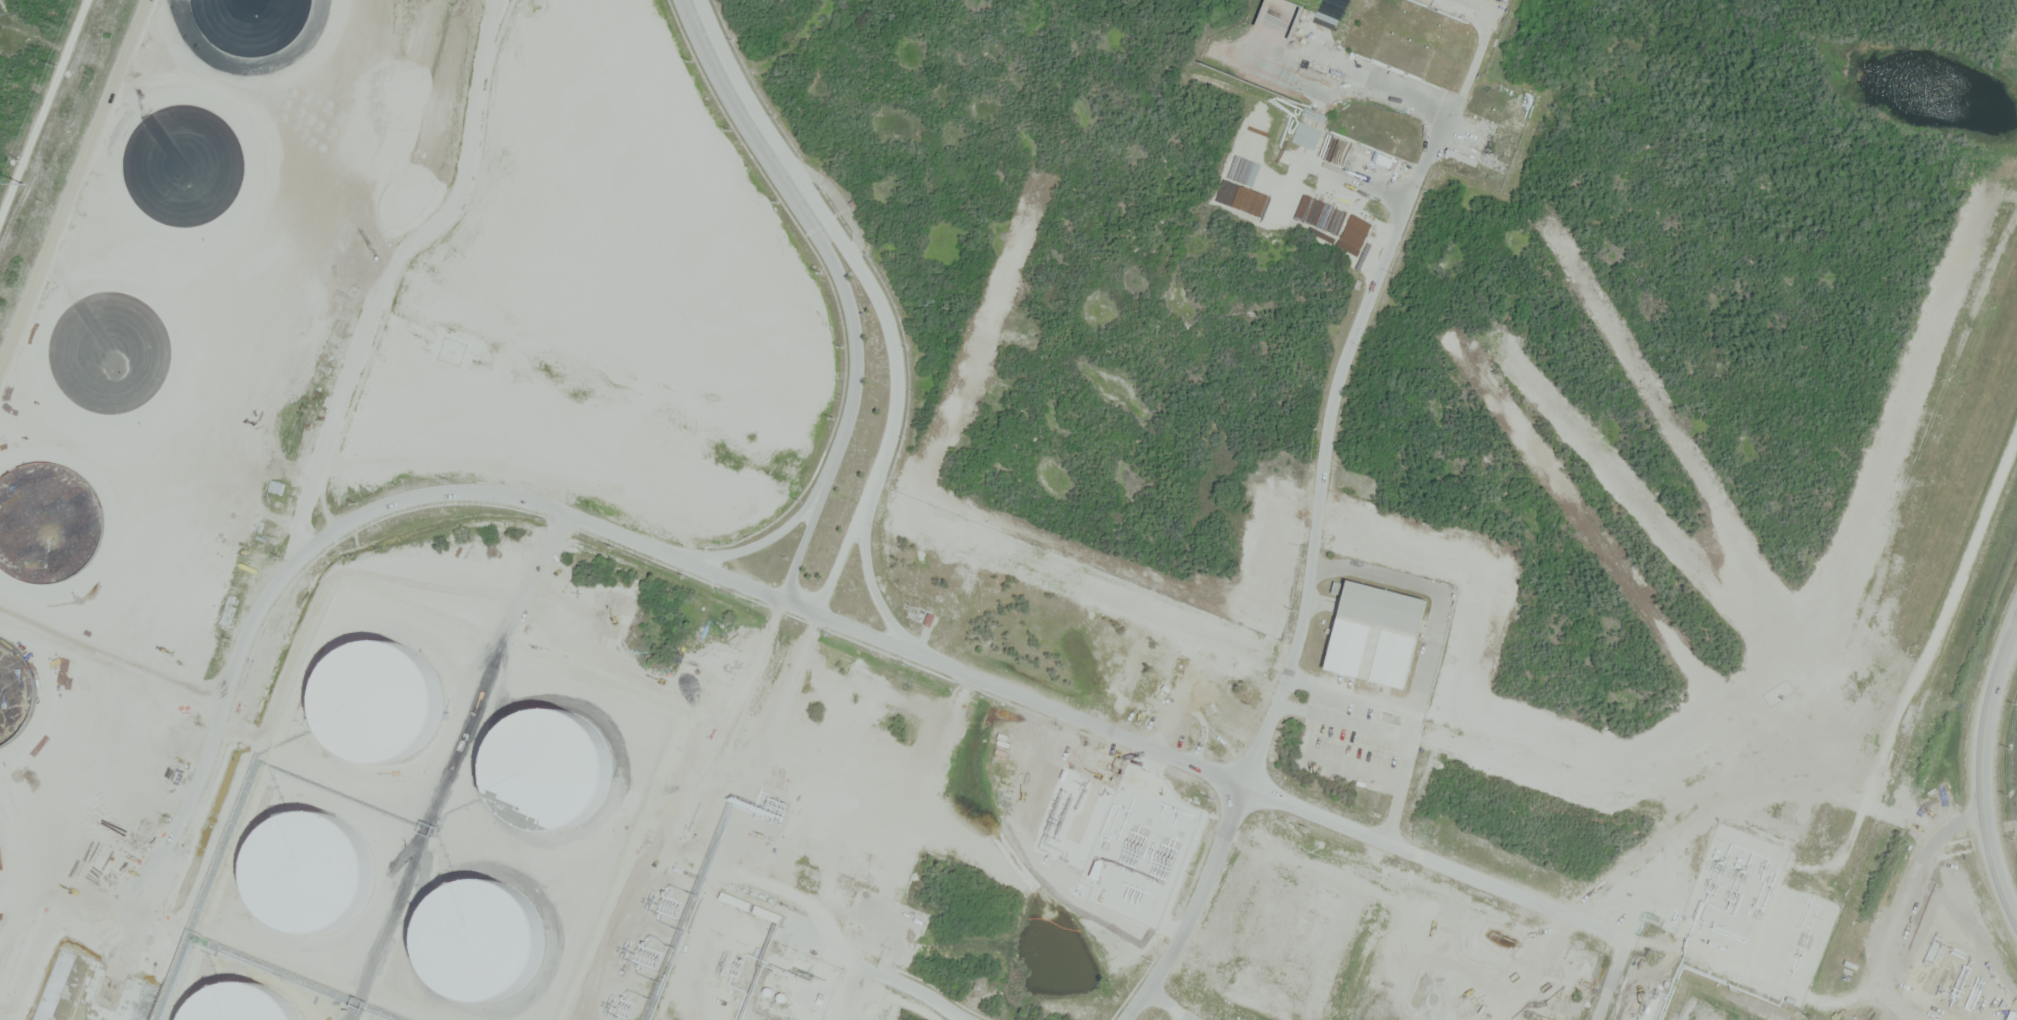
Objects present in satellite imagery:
building: (1415, 37)
road: (45, 116)
road: (296, 561)
building: (451, 569)
building: (517, 573)
building: (399, 589)
road: (809, 600)
building: (608, 618)
building: (930, 619)
road: (1302, 619)
building: (468, 624)
building: (1379, 631)
building: (558, 640)
building: (394, 653)
building: (1206, 690)
storage tank: (1206, 690)
building: (697, 693)
building: (582, 699)
building: (366, 702)
building: (533, 731)
building: (458, 734)
road: (1212, 769)
road: (1979, 775)
building: (676, 800)
building: (824, 892)
building: (737, 901)
road: (1904, 907)
building: (769, 914)
building: (1734, 919)
building: (1283, 930)
building: (576, 931)
building: (745, 976)
road: (1609, 979)
building: (1791, 1001)

